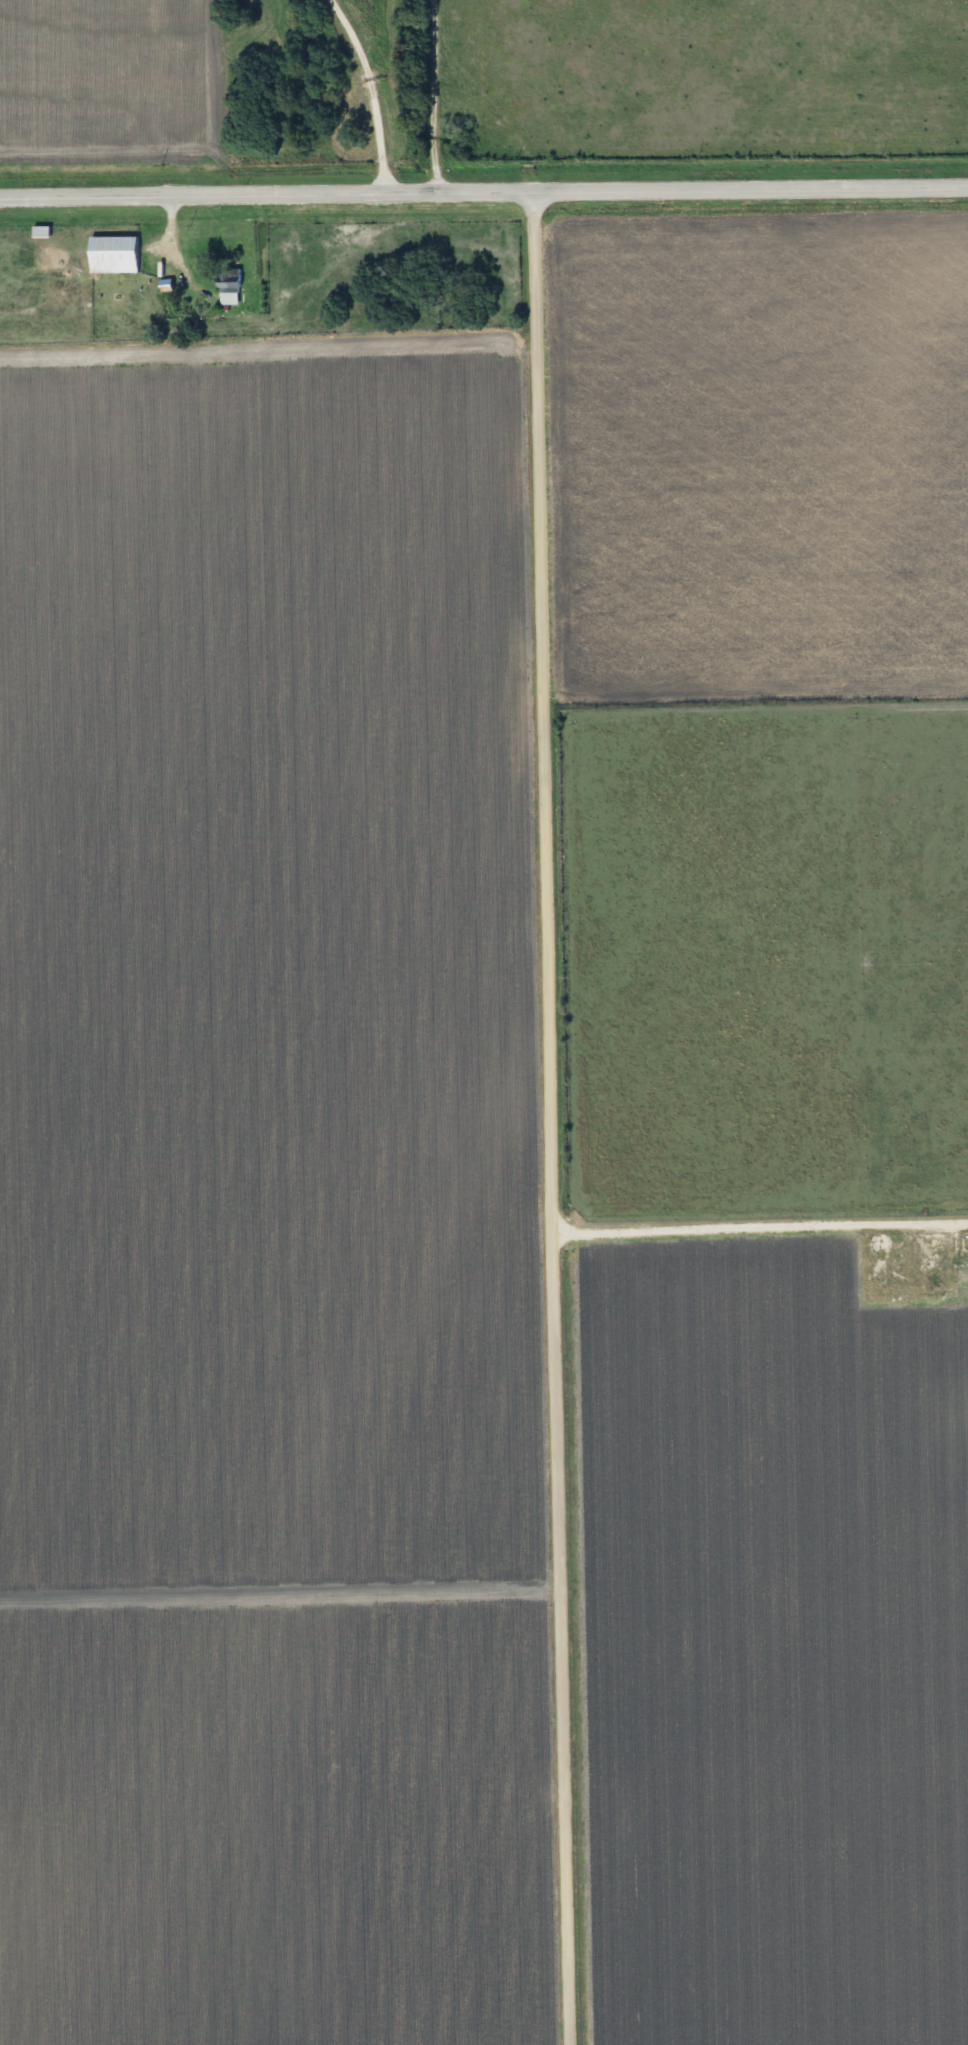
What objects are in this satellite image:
road: (371, 88)
road: (432, 95)
road: (484, 190)
building: (108, 255)
building: (223, 287)
road: (558, 1117)
road: (764, 1204)

